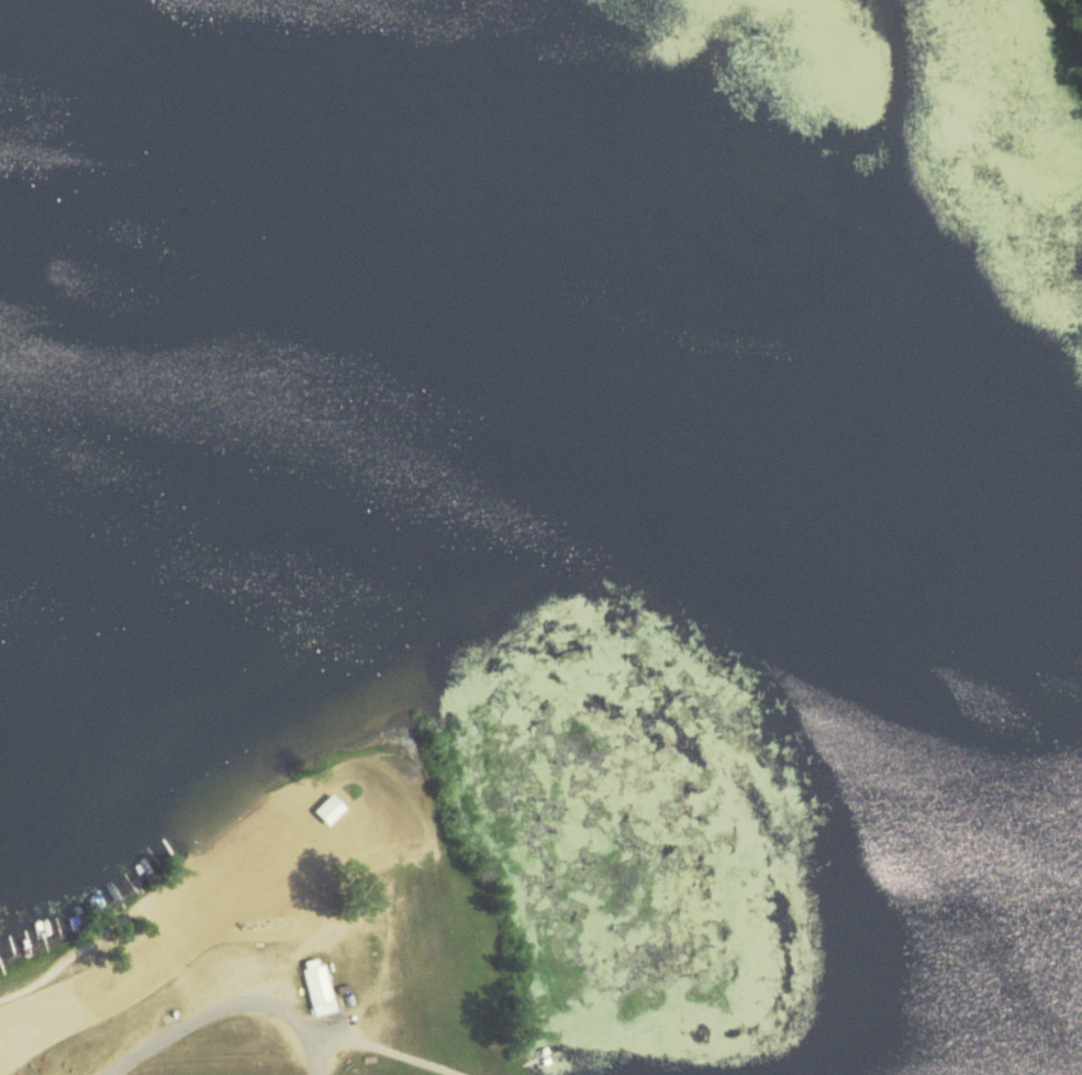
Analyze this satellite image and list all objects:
building: (156, 794)
building: (322, 810)
road: (53, 973)
building: (317, 988)
road: (230, 1005)
road: (386, 1051)

